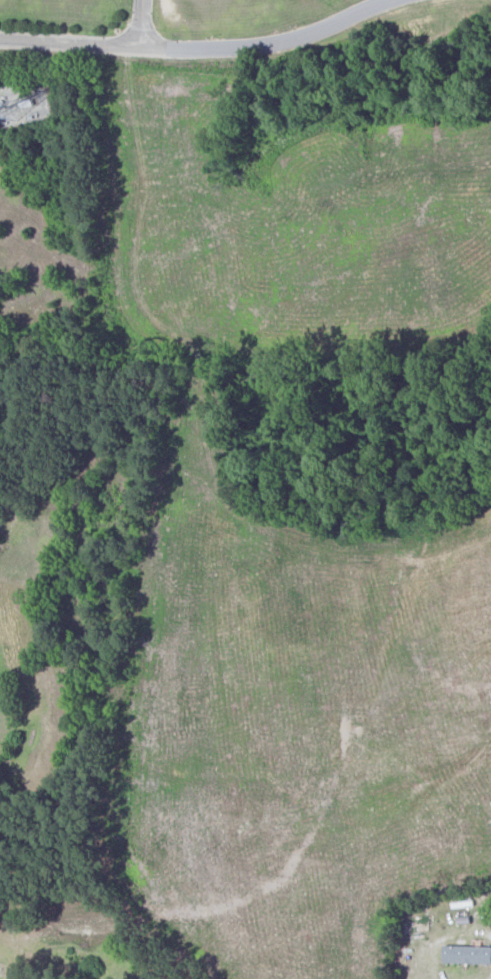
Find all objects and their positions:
road: (91, 41)
road: (271, 45)
road: (442, 934)
building: (467, 955)

